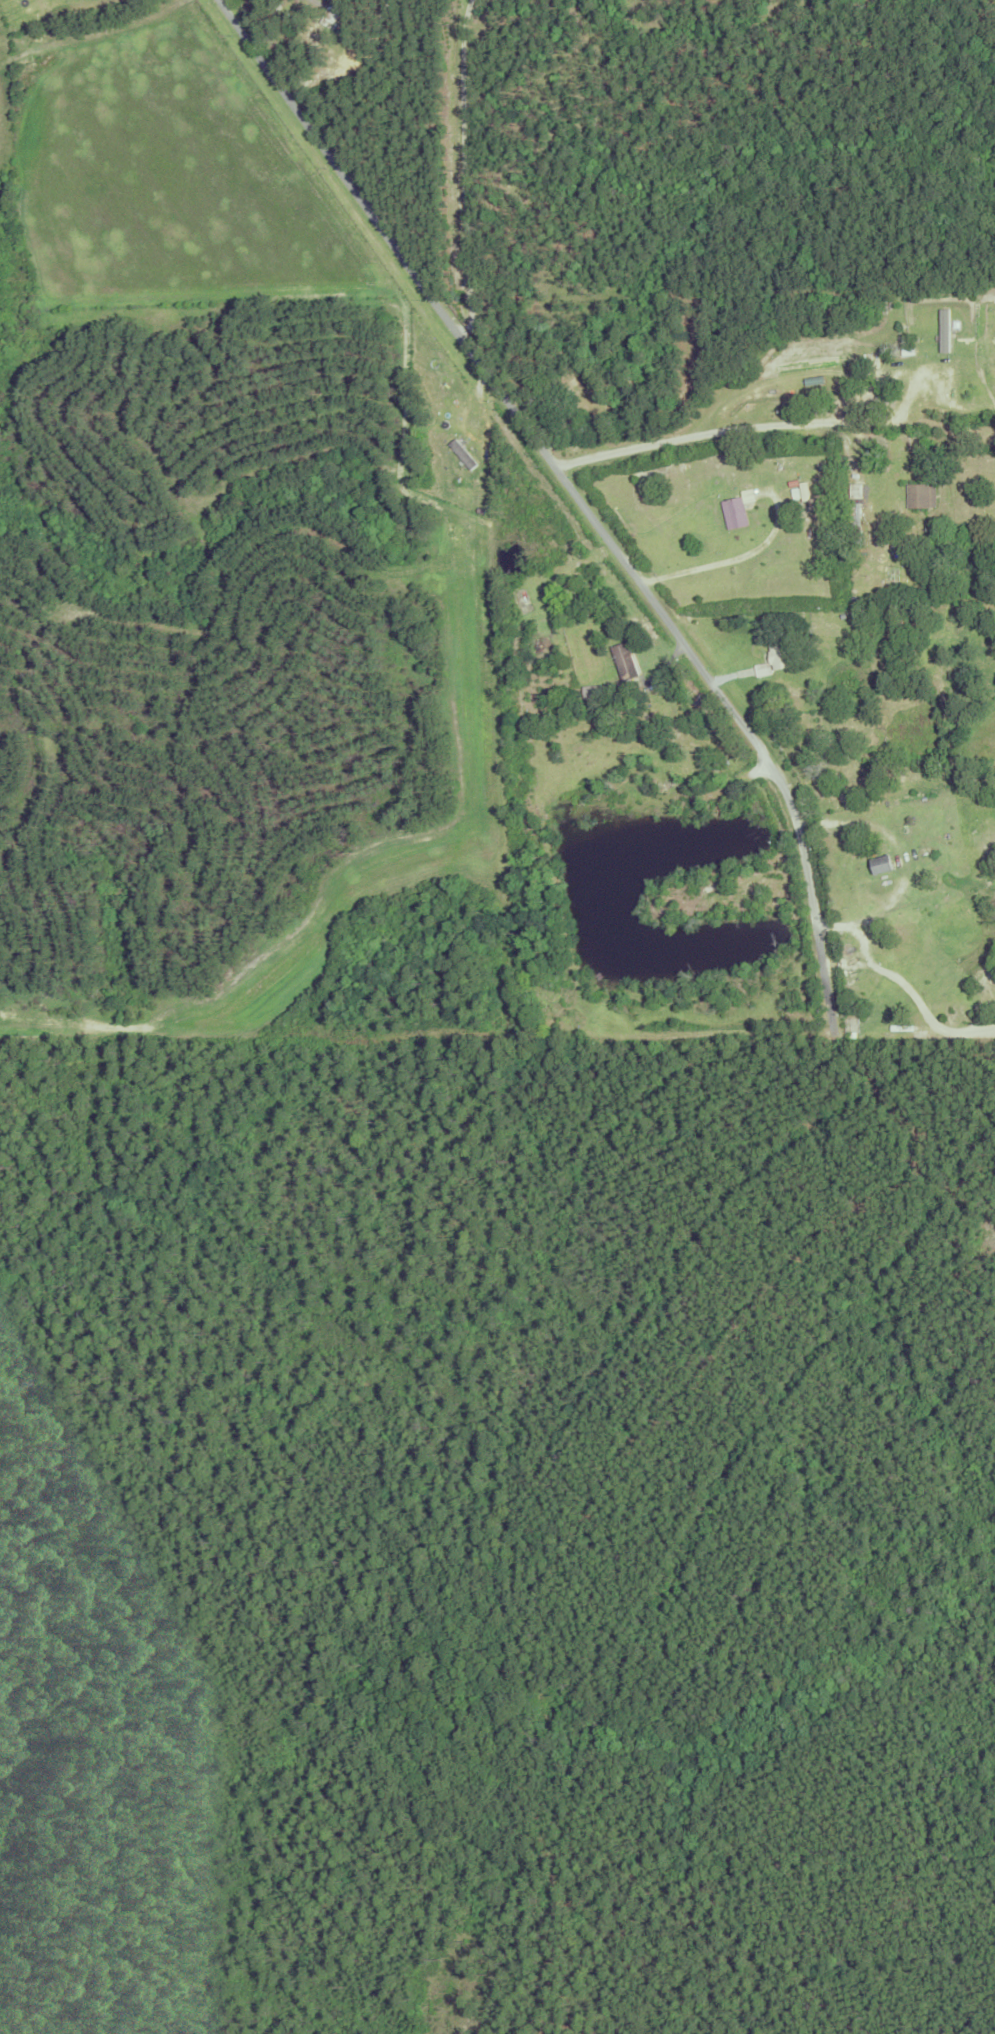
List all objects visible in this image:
road: (463, 173)
building: (944, 326)
building: (660, 344)
building: (905, 347)
building: (575, 396)
road: (801, 422)
building: (464, 455)
building: (802, 488)
building: (793, 491)
building: (919, 493)
road: (575, 495)
building: (736, 507)
building: (853, 510)
road: (736, 557)
building: (778, 653)
building: (626, 661)
building: (593, 692)
building: (807, 721)
building: (908, 795)
building: (915, 859)
building: (881, 862)
road: (912, 992)
building: (558, 1006)

